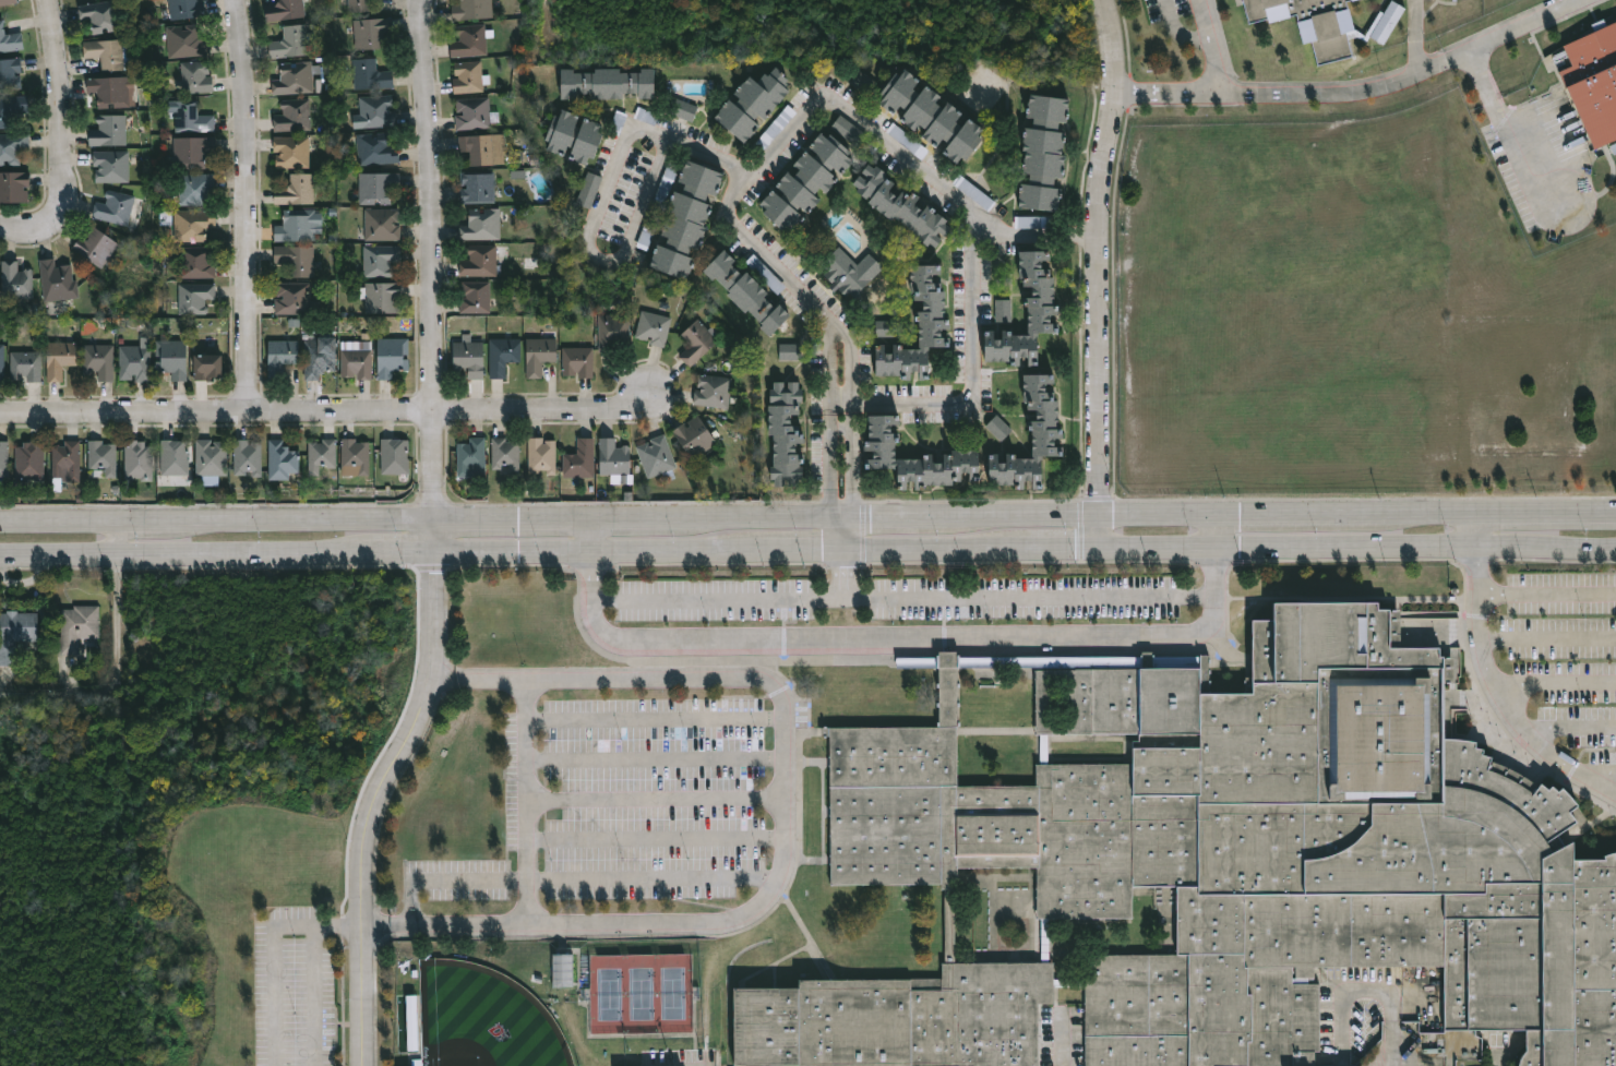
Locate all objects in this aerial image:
building: (9, 2)
building: (357, 5)
building: (190, 9)
building: (471, 10)
building: (286, 11)
building: (105, 16)
road: (1206, 20)
building: (1309, 24)
road: (1181, 29)
building: (369, 34)
road: (1413, 38)
building: (11, 40)
building: (469, 40)
building: (292, 41)
building: (189, 43)
building: (111, 53)
road: (1220, 65)
building: (11, 74)
building: (368, 75)
building: (199, 76)
building: (467, 77)
building: (294, 79)
building: (1592, 81)
building: (863, 83)
building: (604, 84)
road: (1360, 85)
building: (112, 92)
building: (750, 105)
building: (681, 109)
building: (13, 110)
building: (375, 111)
building: (472, 113)
building: (295, 117)
building: (195, 119)
building: (924, 119)
road: (60, 122)
building: (847, 131)
building: (111, 132)
road: (1507, 132)
building: (570, 137)
building: (908, 141)
building: (13, 149)
building: (374, 149)
building: (482, 149)
building: (292, 152)
building: (1041, 152)
building: (195, 153)
building: (113, 166)
building: (804, 182)
building: (15, 187)
building: (200, 188)
building: (375, 188)
building: (476, 188)
building: (297, 190)
building: (589, 191)
road: (601, 201)
road: (248, 205)
building: (117, 207)
road: (729, 207)
building: (898, 207)
building: (683, 219)
building: (1033, 223)
building: (195, 225)
building: (380, 225)
building: (480, 225)
road: (13, 226)
building: (294, 227)
road: (1038, 235)
road: (1093, 239)
building: (98, 245)
building: (296, 259)
building: (379, 260)
road: (432, 260)
building: (197, 261)
building: (478, 262)
building: (849, 272)
building: (19, 280)
building: (60, 280)
building: (743, 291)
building: (197, 297)
building: (294, 297)
building: (382, 297)
building: (474, 298)
building: (1004, 310)
building: (1025, 313)
building: (914, 326)
building: (653, 328)
building: (886, 328)
building: (613, 332)
building: (697, 342)
building: (790, 351)
building: (539, 355)
building: (318, 356)
building: (391, 356)
building: (502, 356)
building: (176, 357)
building: (285, 357)
building: (468, 358)
building: (62, 359)
building: (137, 360)
building: (577, 360)
building: (101, 361)
building: (3, 362)
building: (355, 363)
building: (28, 364)
building: (214, 366)
road: (973, 382)
building: (711, 392)
road: (324, 414)
building: (998, 428)
building: (782, 433)
building: (1045, 433)
building: (693, 436)
building: (352, 454)
building: (504, 454)
building: (540, 454)
building: (320, 455)
building: (392, 455)
building: (176, 456)
building: (469, 456)
building: (105, 457)
building: (244, 457)
building: (612, 457)
building: (656, 457)
building: (5, 458)
building: (912, 458)
building: (34, 459)
building: (141, 459)
building: (578, 459)
building: (69, 460)
building: (208, 460)
building: (278, 460)
road: (1101, 514)
road: (1293, 517)
road: (1076, 518)
road: (1421, 518)
road: (1543, 518)
road: (762, 519)
road: (889, 519)
road: (515, 520)
road: (637, 520)
road: (302, 523)
road: (58, 525)
road: (142, 525)
road: (594, 535)
road: (842, 535)
road: (1216, 535)
road: (1471, 535)
road: (438, 538)
road: (117, 540)
road: (1062, 548)
road: (932, 549)
road: (678, 550)
road: (803, 550)
road: (1159, 550)
road: (404, 552)
road: (515, 552)
road: (1416, 552)
road: (184, 554)
road: (1217, 574)
road: (594, 575)
road: (1548, 594)
parking lot: (897, 598)
road: (1004, 598)
road: (717, 600)
building: (77, 626)
building: (16, 633)
road: (903, 638)
road: (1548, 638)
parking lot: (1561, 657)
road: (116, 675)
road: (1492, 675)
road: (1557, 685)
road: (656, 720)
road: (1573, 728)
road: (656, 755)
road: (1605, 778)
road: (1594, 781)
road: (657, 795)
road: (525, 802)
road: (374, 804)
parking lot: (630, 809)
road: (789, 825)
road: (657, 838)
building: (1221, 863)
road: (574, 878)
road: (274, 950)
building: (563, 970)
parking lot: (294, 985)
park: (641, 993)
road: (1374, 993)
road: (318, 995)
park: (484, 1019)
building: (412, 1022)
road: (686, 1063)

